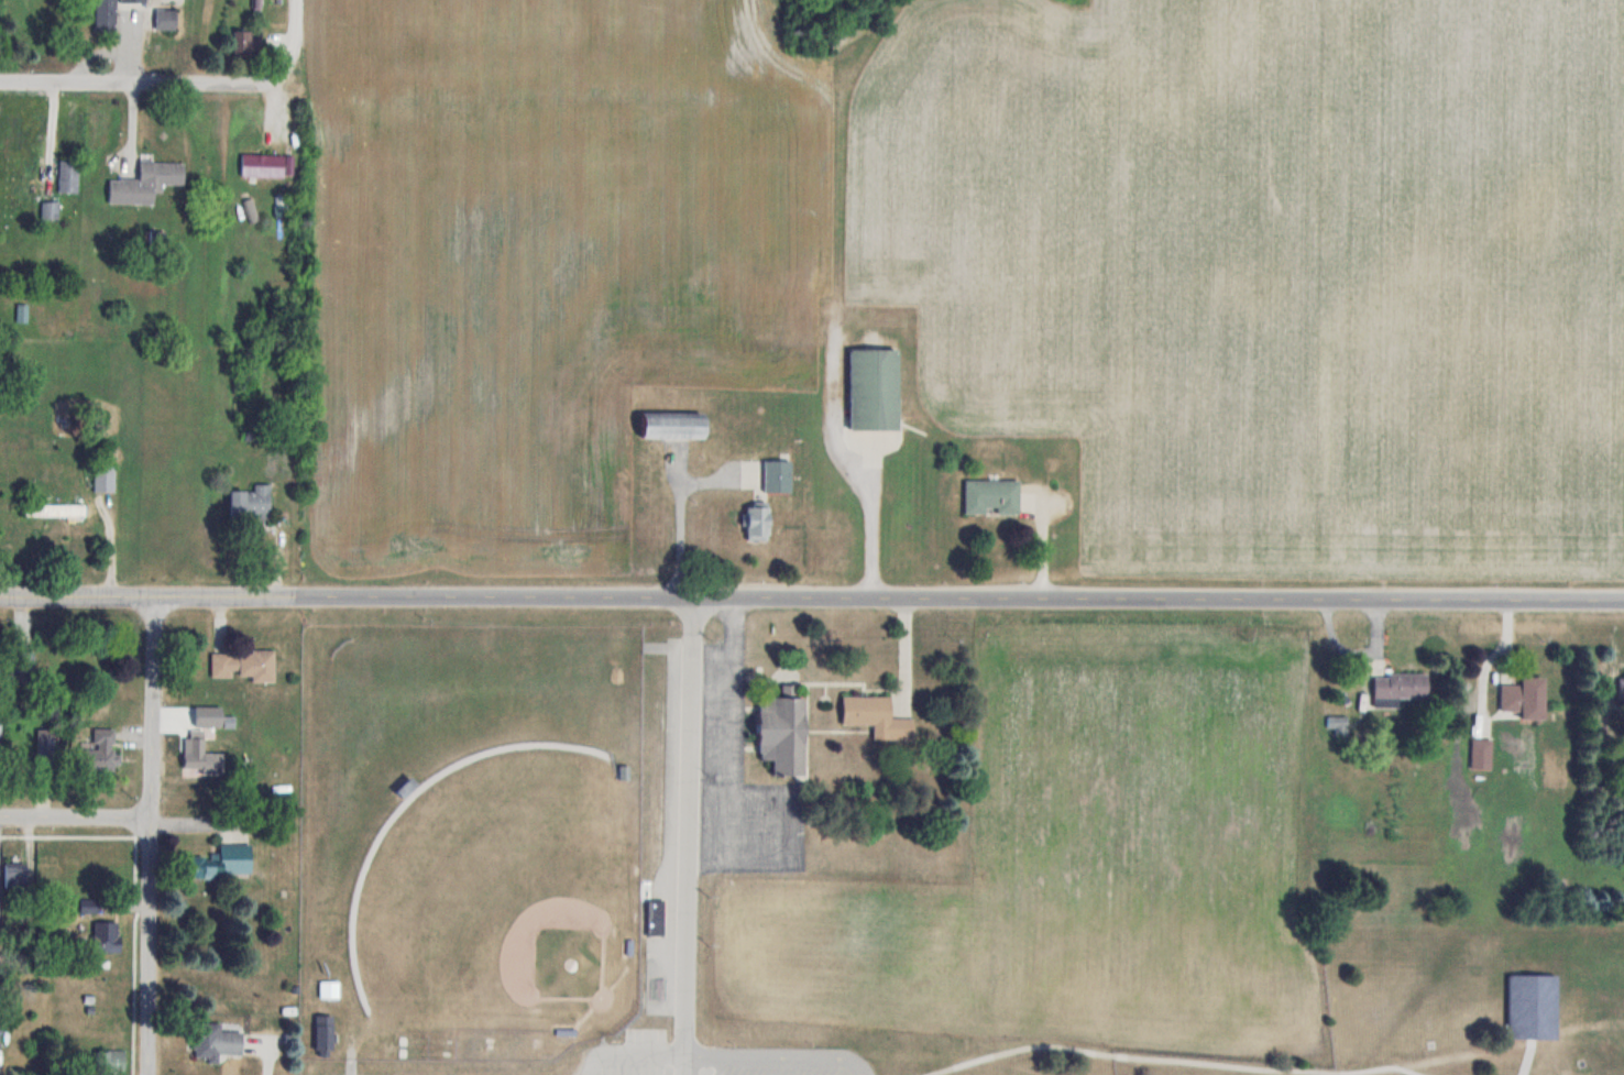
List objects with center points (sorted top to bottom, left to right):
building: (133, 0)
building: (106, 15)
building: (165, 19)
road: (294, 22)
building: (243, 41)
road: (157, 81)
building: (263, 165)
building: (68, 176)
building: (145, 183)
building: (10, 187)
building: (50, 210)
building: (874, 388)
building: (673, 426)
building: (778, 476)
building: (103, 479)
building: (992, 495)
building: (250, 503)
building: (53, 511)
building: (757, 523)
road: (812, 595)
building: (25, 661)
building: (243, 665)
building: (1400, 688)
building: (1621, 692)
building: (1525, 698)
building: (877, 716)
building: (0, 727)
building: (782, 732)
building: (46, 741)
building: (103, 743)
building: (1482, 754)
building: (200, 755)
road: (75, 815)
road: (149, 834)
road: (690, 835)
building: (220, 863)
building: (15, 878)
building: (656, 918)
building: (106, 936)
building: (329, 989)
building: (1534, 1007)
building: (325, 1033)
building: (217, 1041)

